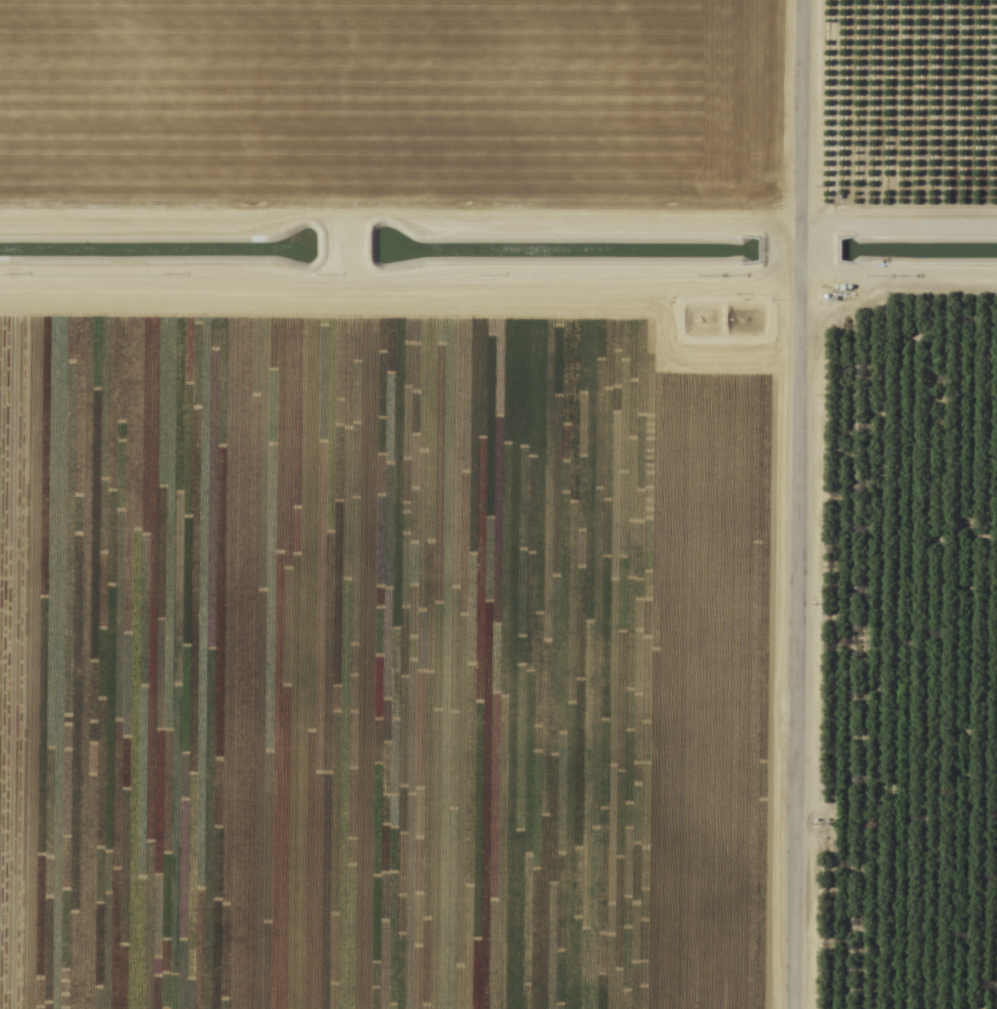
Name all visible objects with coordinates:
crop: (498, 504)
road: (799, 504)

